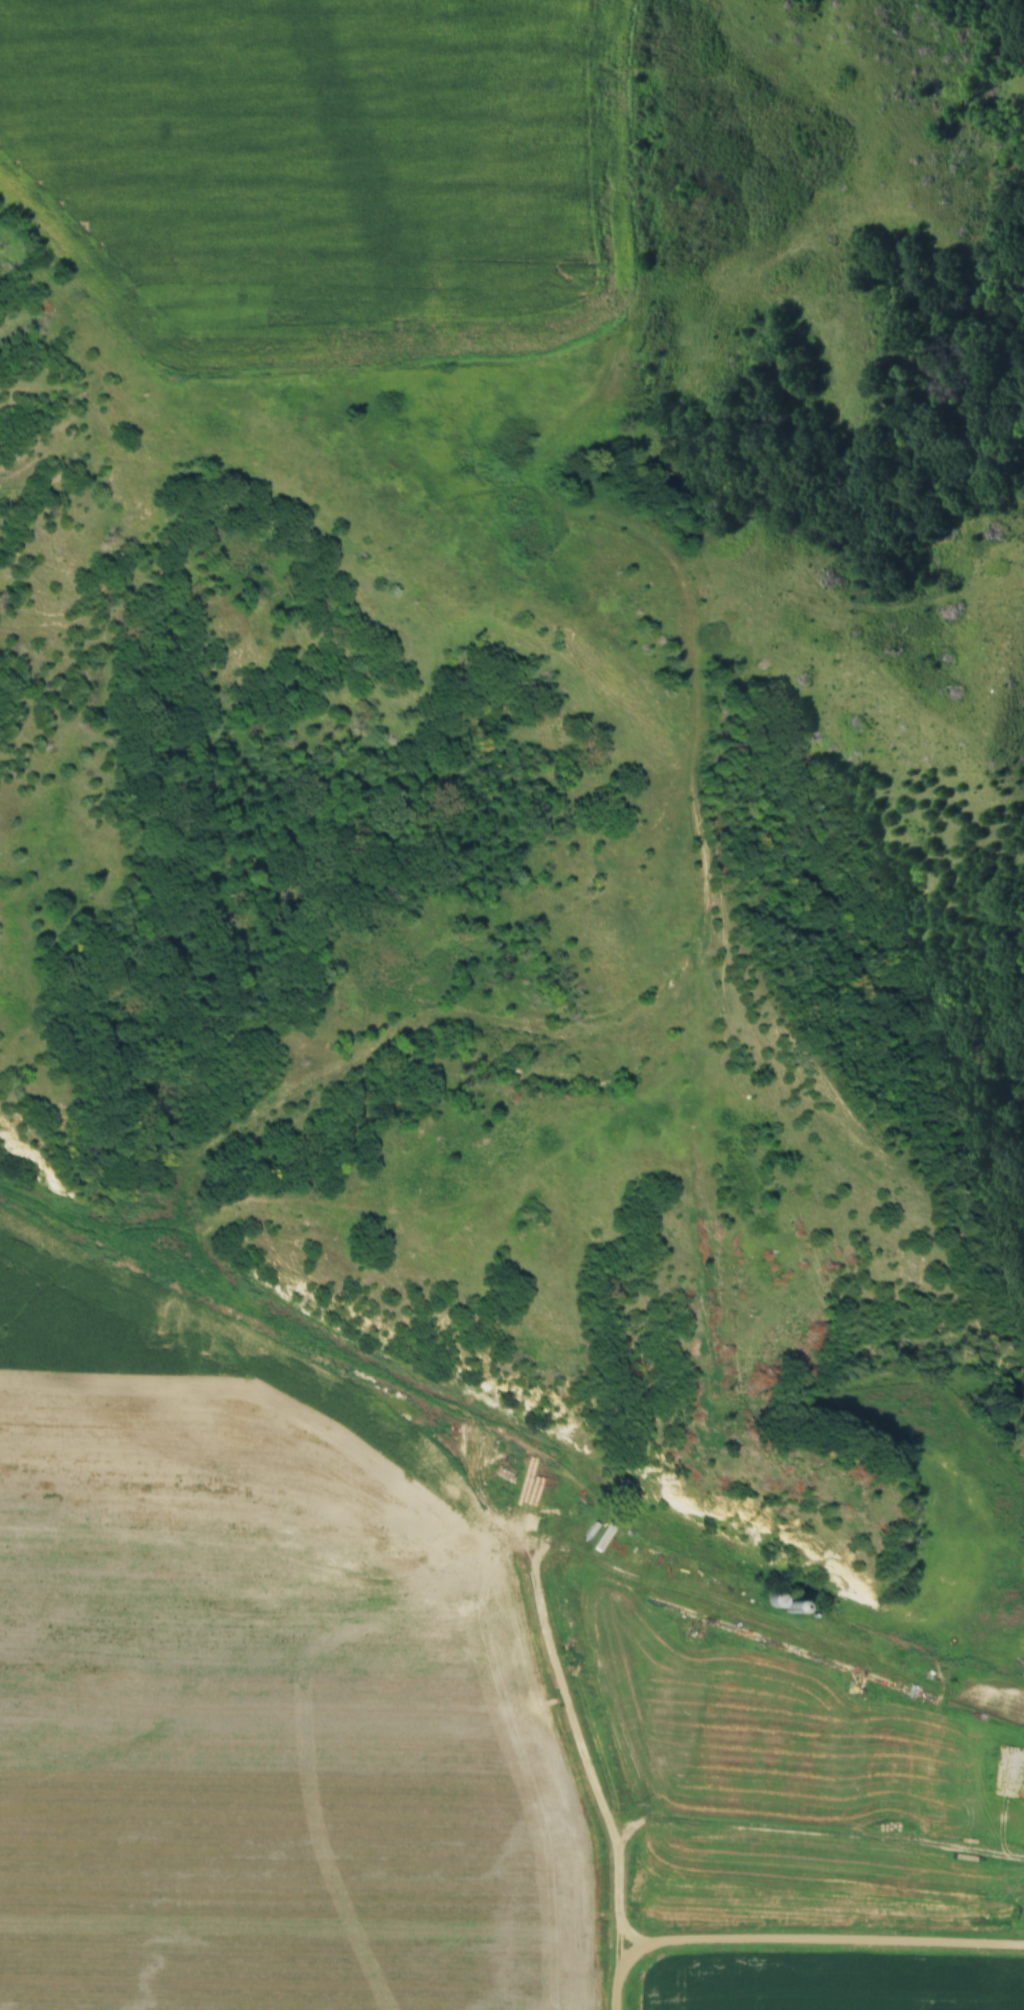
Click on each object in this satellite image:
road: (595, 1793)
road: (817, 1938)

